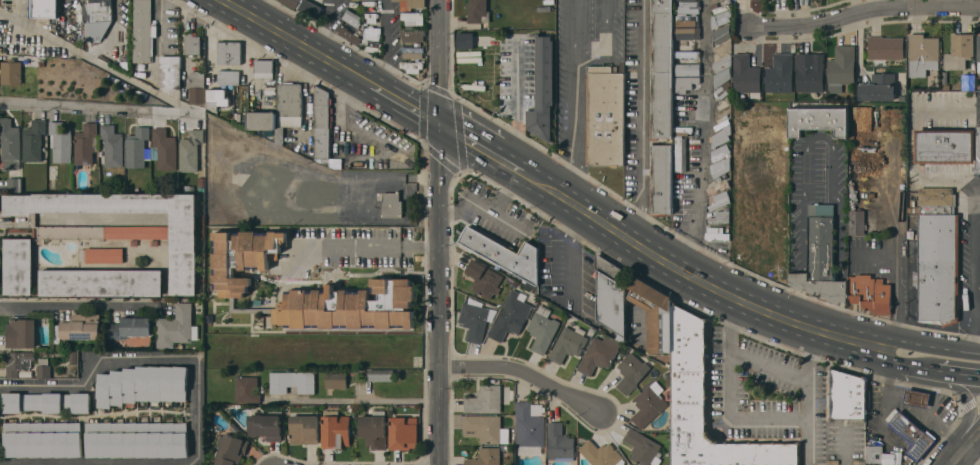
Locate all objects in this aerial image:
building: (712, 0)
building: (292, 2)
building: (69, 3)
building: (412, 4)
building: (687, 6)
building: (44, 8)
building: (311, 8)
building: (98, 9)
building: (478, 11)
road: (265, 12)
road: (863, 12)
building: (372, 16)
building: (353, 17)
building: (412, 18)
building: (683, 18)
road: (575, 26)
building: (143, 30)
road: (329, 30)
building: (373, 33)
building: (686, 33)
building: (348, 34)
building: (413, 35)
building: (465, 40)
road: (608, 41)
building: (193, 43)
building: (687, 44)
road: (305, 46)
building: (373, 46)
building: (885, 47)
road: (388, 48)
building: (413, 51)
building: (959, 51)
building: (229, 52)
building: (922, 53)
building: (978, 55)
building: (412, 66)
building: (841, 67)
building: (264, 68)
building: (11, 70)
building: (662, 70)
building: (810, 71)
building: (780, 73)
building: (171, 74)
building: (746, 75)
building: (228, 76)
building: (684, 81)
building: (968, 81)
building: (270, 82)
building: (196, 85)
building: (543, 87)
building: (878, 87)
building: (270, 90)
building: (217, 98)
road: (518, 102)
road: (179, 103)
building: (253, 103)
building: (288, 107)
road: (413, 110)
building: (606, 114)
building: (237, 116)
building: (261, 119)
building: (818, 120)
road: (642, 121)
building: (322, 123)
road: (573, 128)
road: (458, 135)
road: (822, 135)
building: (721, 137)
road: (703, 139)
building: (34, 140)
road: (912, 141)
building: (60, 142)
building: (10, 143)
building: (86, 143)
building: (112, 145)
building: (945, 145)
building: (138, 147)
building: (165, 148)
building: (978, 148)
building: (190, 150)
building: (678, 153)
building: (719, 153)
road: (500, 158)
building: (661, 179)
building: (14, 184)
building: (719, 186)
road: (507, 193)
building: (937, 200)
building: (720, 201)
road: (366, 203)
building: (390, 203)
road: (483, 209)
building: (720, 218)
building: (856, 221)
road: (11, 223)
building: (136, 231)
road: (440, 232)
building: (937, 237)
road: (365, 247)
building: (102, 254)
building: (184, 254)
building: (504, 254)
building: (243, 257)
building: (821, 257)
building: (19, 266)
road: (976, 272)
road: (694, 277)
building: (484, 278)
road: (802, 280)
building: (101, 282)
road: (838, 290)
building: (937, 290)
road: (897, 293)
building: (611, 294)
building: (870, 294)
road: (795, 304)
road: (81, 306)
building: (349, 306)
building: (654, 314)
building: (510, 316)
road: (834, 317)
building: (474, 320)
road: (979, 324)
building: (81, 326)
building: (130, 327)
building: (177, 327)
building: (542, 329)
building: (21, 333)
building: (568, 343)
building: (598, 354)
road: (910, 356)
building: (73, 358)
building: (18, 361)
road: (959, 364)
road: (769, 367)
building: (43, 368)
road: (94, 368)
building: (632, 370)
road: (807, 373)
building: (382, 374)
road: (526, 374)
building: (336, 380)
building: (292, 381)
building: (142, 384)
road: (955, 388)
building: (247, 389)
building: (688, 392)
building: (847, 394)
building: (917, 397)
building: (484, 399)
building: (47, 401)
road: (355, 401)
building: (649, 404)
road: (902, 405)
road: (197, 408)
road: (734, 415)
building: (266, 426)
building: (485, 427)
building: (529, 427)
building: (304, 429)
building: (374, 429)
building: (336, 430)
building: (403, 432)
building: (912, 434)
building: (43, 439)
building: (136, 439)
building: (560, 442)
road: (845, 447)
building: (643, 448)
road: (964, 448)
building: (230, 449)
building: (874, 453)
building: (601, 454)
building: (485, 457)
road: (99, 462)

